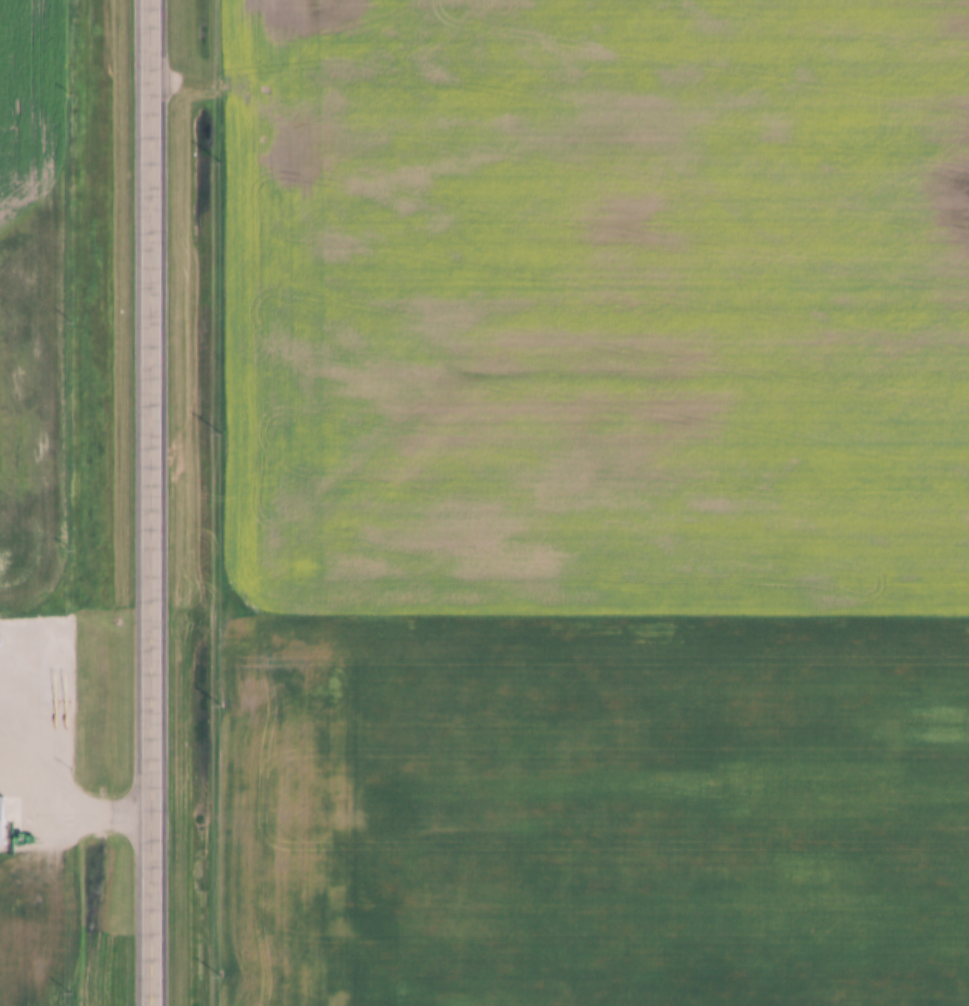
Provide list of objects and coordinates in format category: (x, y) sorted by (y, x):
road: (149, 502)
building: (0, 642)
silo: (0, 642)
road: (84, 815)
building: (2, 821)

